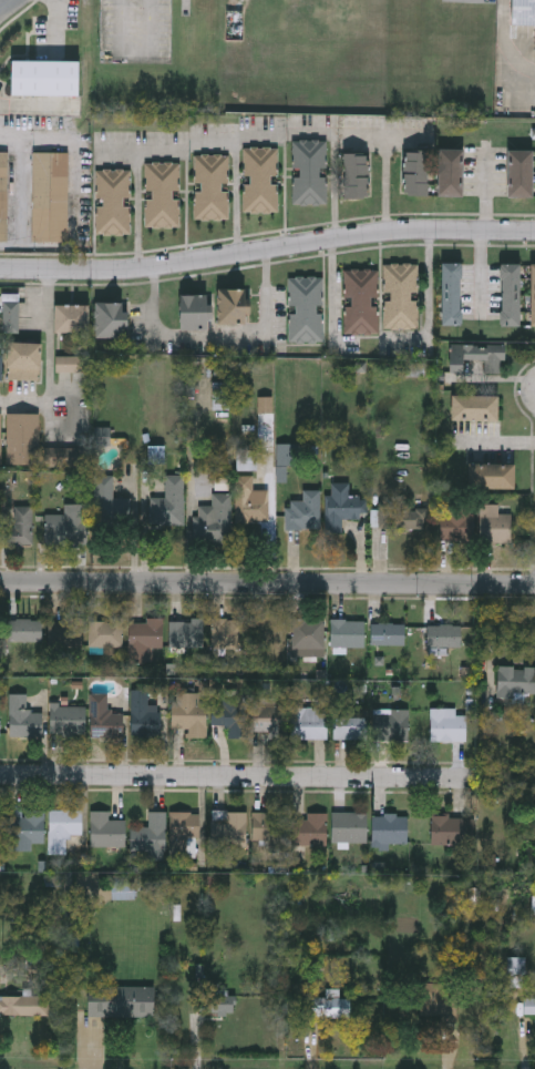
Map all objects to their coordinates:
road: (4, 4)
building: (523, 11)
road: (505, 41)
building: (43, 77)
road: (230, 142)
building: (311, 171)
building: (416, 172)
building: (451, 172)
building: (521, 173)
building: (356, 174)
building: (263, 179)
road: (388, 183)
building: (213, 186)
building: (164, 193)
building: (4, 195)
building: (51, 196)
road: (237, 197)
building: (115, 201)
road: (267, 251)
building: (452, 293)
building: (511, 294)
building: (402, 295)
building: (533, 295)
building: (363, 301)
building: (230, 306)
building: (307, 308)
building: (193, 312)
building: (12, 313)
building: (72, 317)
building: (109, 318)
road: (220, 337)
road: (385, 342)
building: (475, 356)
building: (24, 360)
road: (51, 360)
building: (64, 363)
building: (1, 366)
building: (473, 407)
building: (1, 438)
building: (24, 439)
road: (506, 446)
building: (66, 457)
building: (247, 459)
building: (493, 476)
building: (249, 501)
building: (168, 503)
building: (110, 505)
building: (340, 506)
building: (303, 511)
building: (401, 519)
building: (455, 521)
building: (213, 522)
building: (494, 525)
building: (18, 526)
building: (66, 526)
road: (267, 581)
building: (23, 630)
building: (64, 633)
building: (105, 633)
building: (186, 633)
building: (228, 633)
building: (347, 633)
building: (388, 633)
building: (442, 635)
building: (308, 638)
building: (144, 639)
building: (515, 680)
building: (189, 712)
building: (143, 714)
building: (230, 715)
building: (23, 716)
building: (103, 717)
building: (268, 719)
building: (66, 720)
building: (308, 723)
building: (391, 725)
building: (446, 725)
building: (349, 729)
road: (237, 776)
building: (24, 826)
building: (229, 827)
building: (349, 827)
building: (61, 828)
building: (268, 828)
building: (105, 829)
building: (309, 829)
building: (390, 829)
building: (449, 829)
building: (148, 834)
building: (183, 835)
building: (122, 889)
building: (516, 971)
building: (439, 1000)
building: (119, 1001)
building: (213, 1002)
building: (23, 1006)
building: (329, 1006)
building: (528, 1006)

